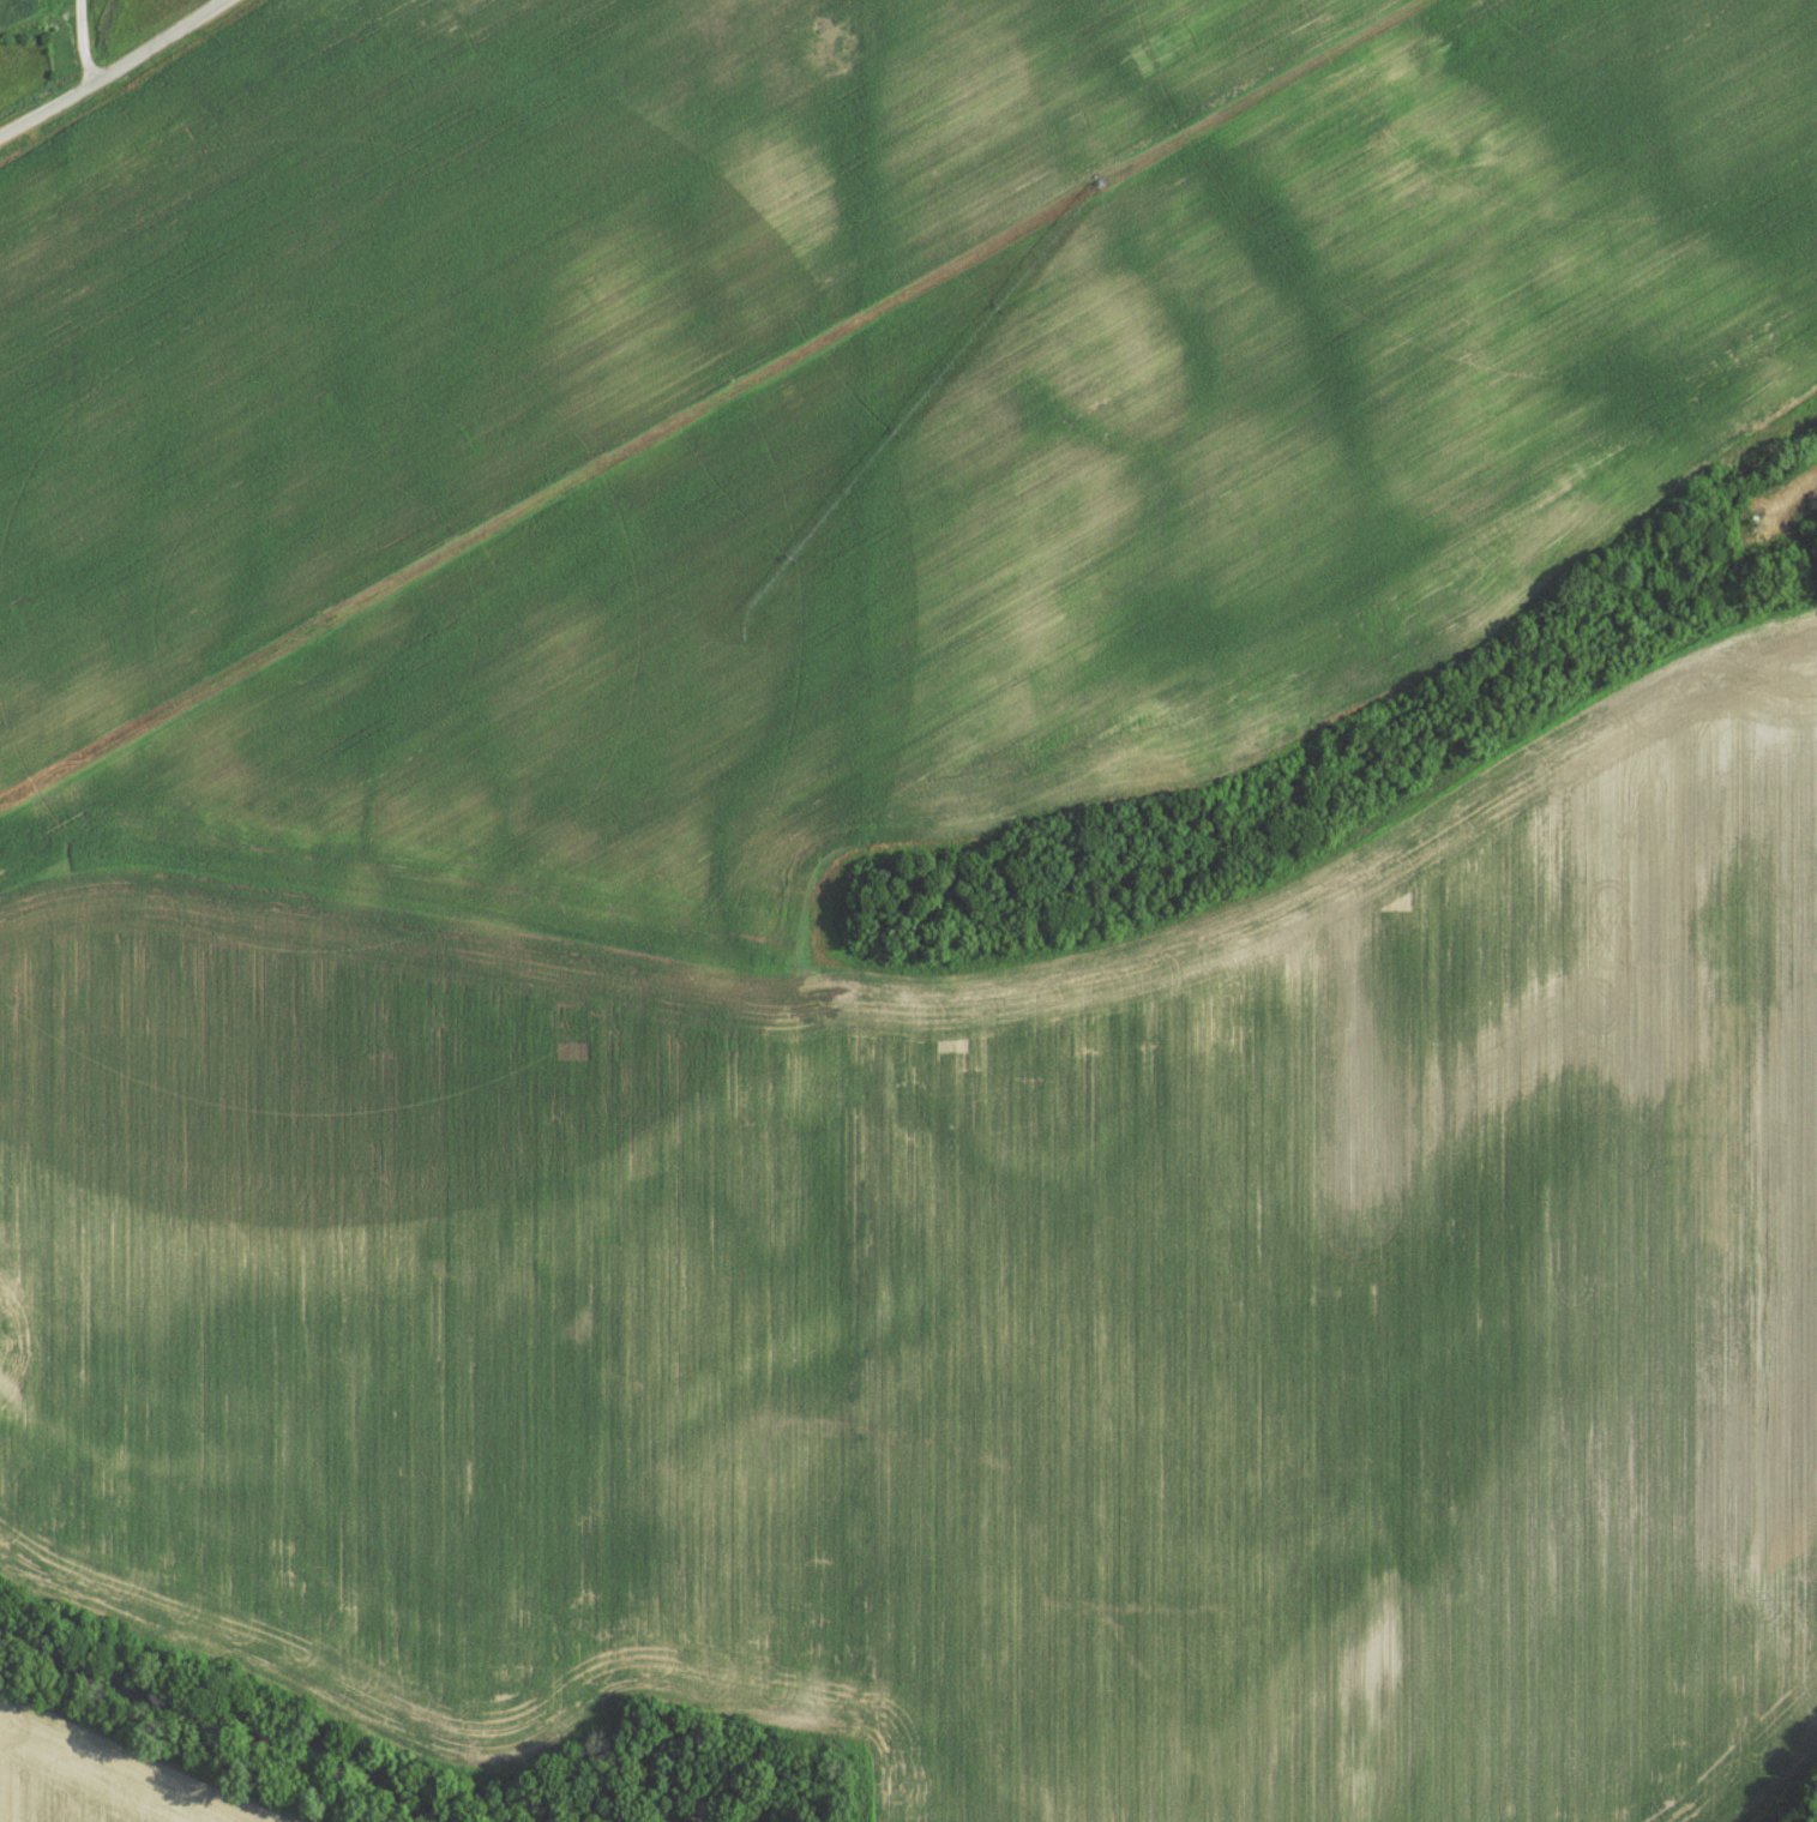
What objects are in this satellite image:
road: (85, 40)
road: (108, 71)

